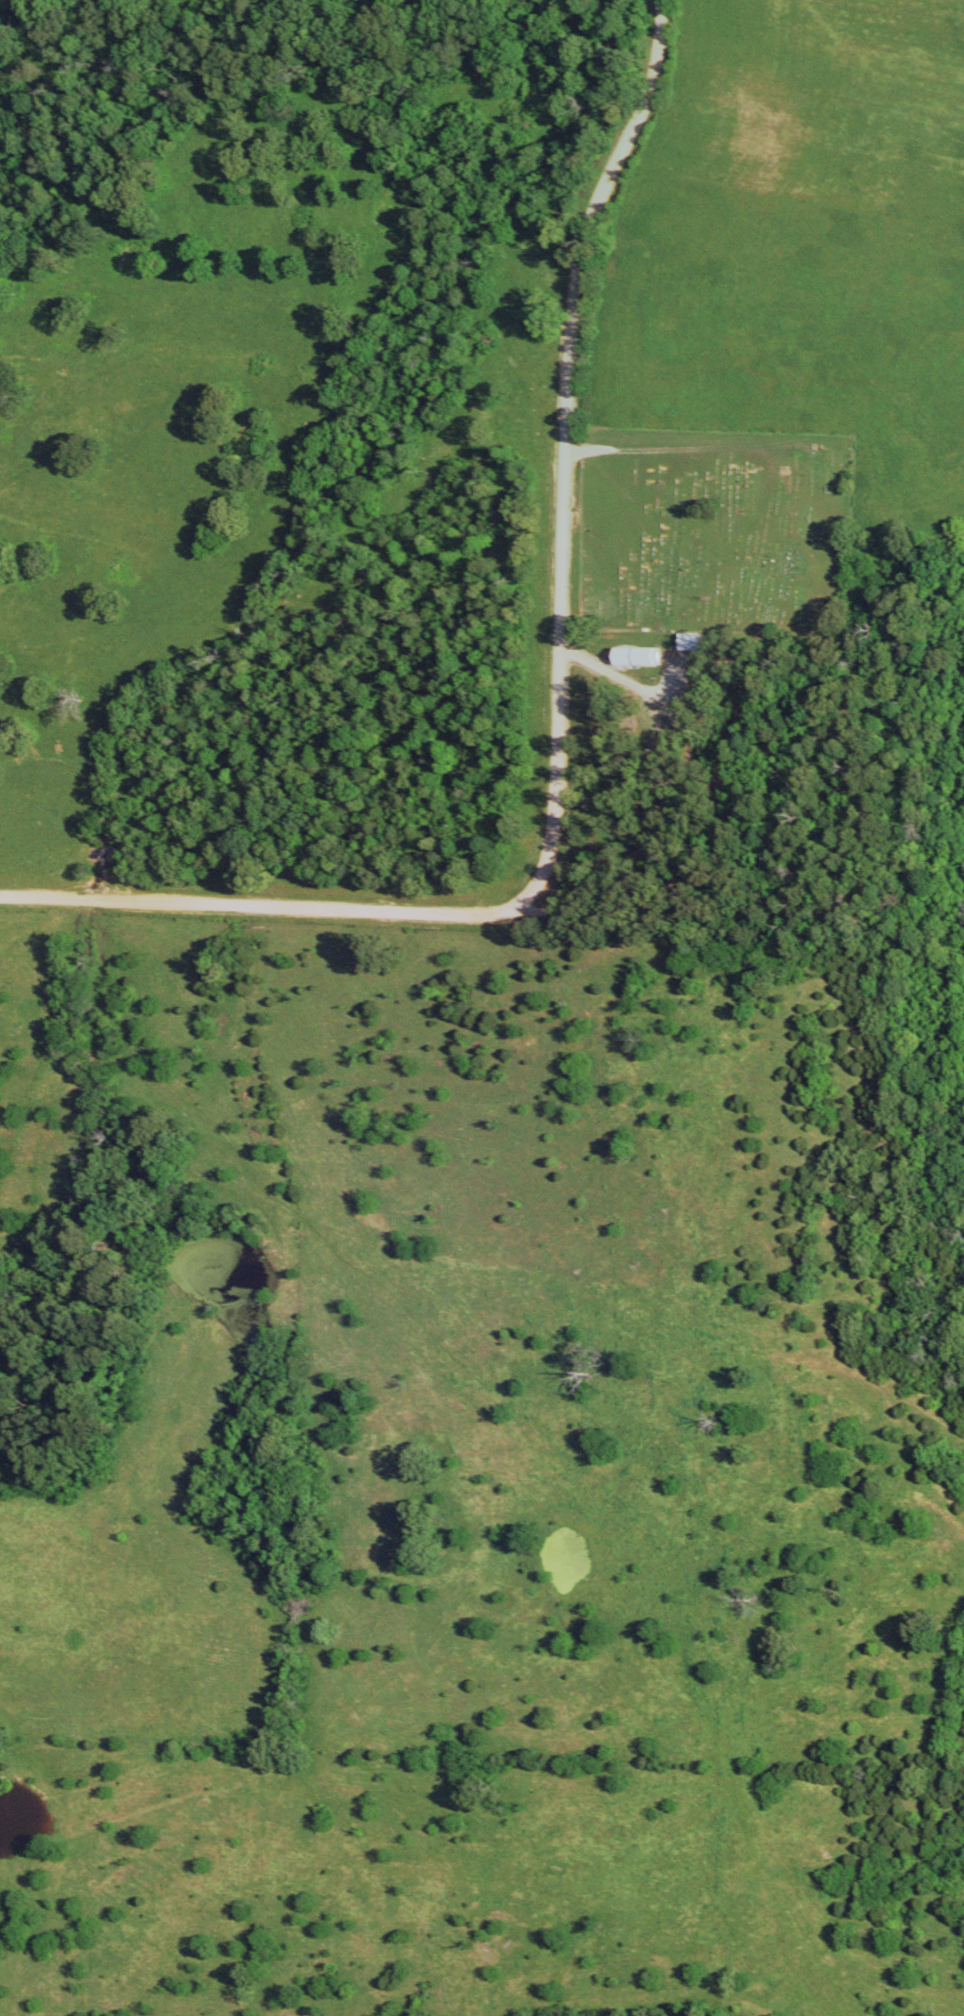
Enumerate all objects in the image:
park: (538, 3)
building: (635, 660)
road: (553, 708)
road: (663, 792)

